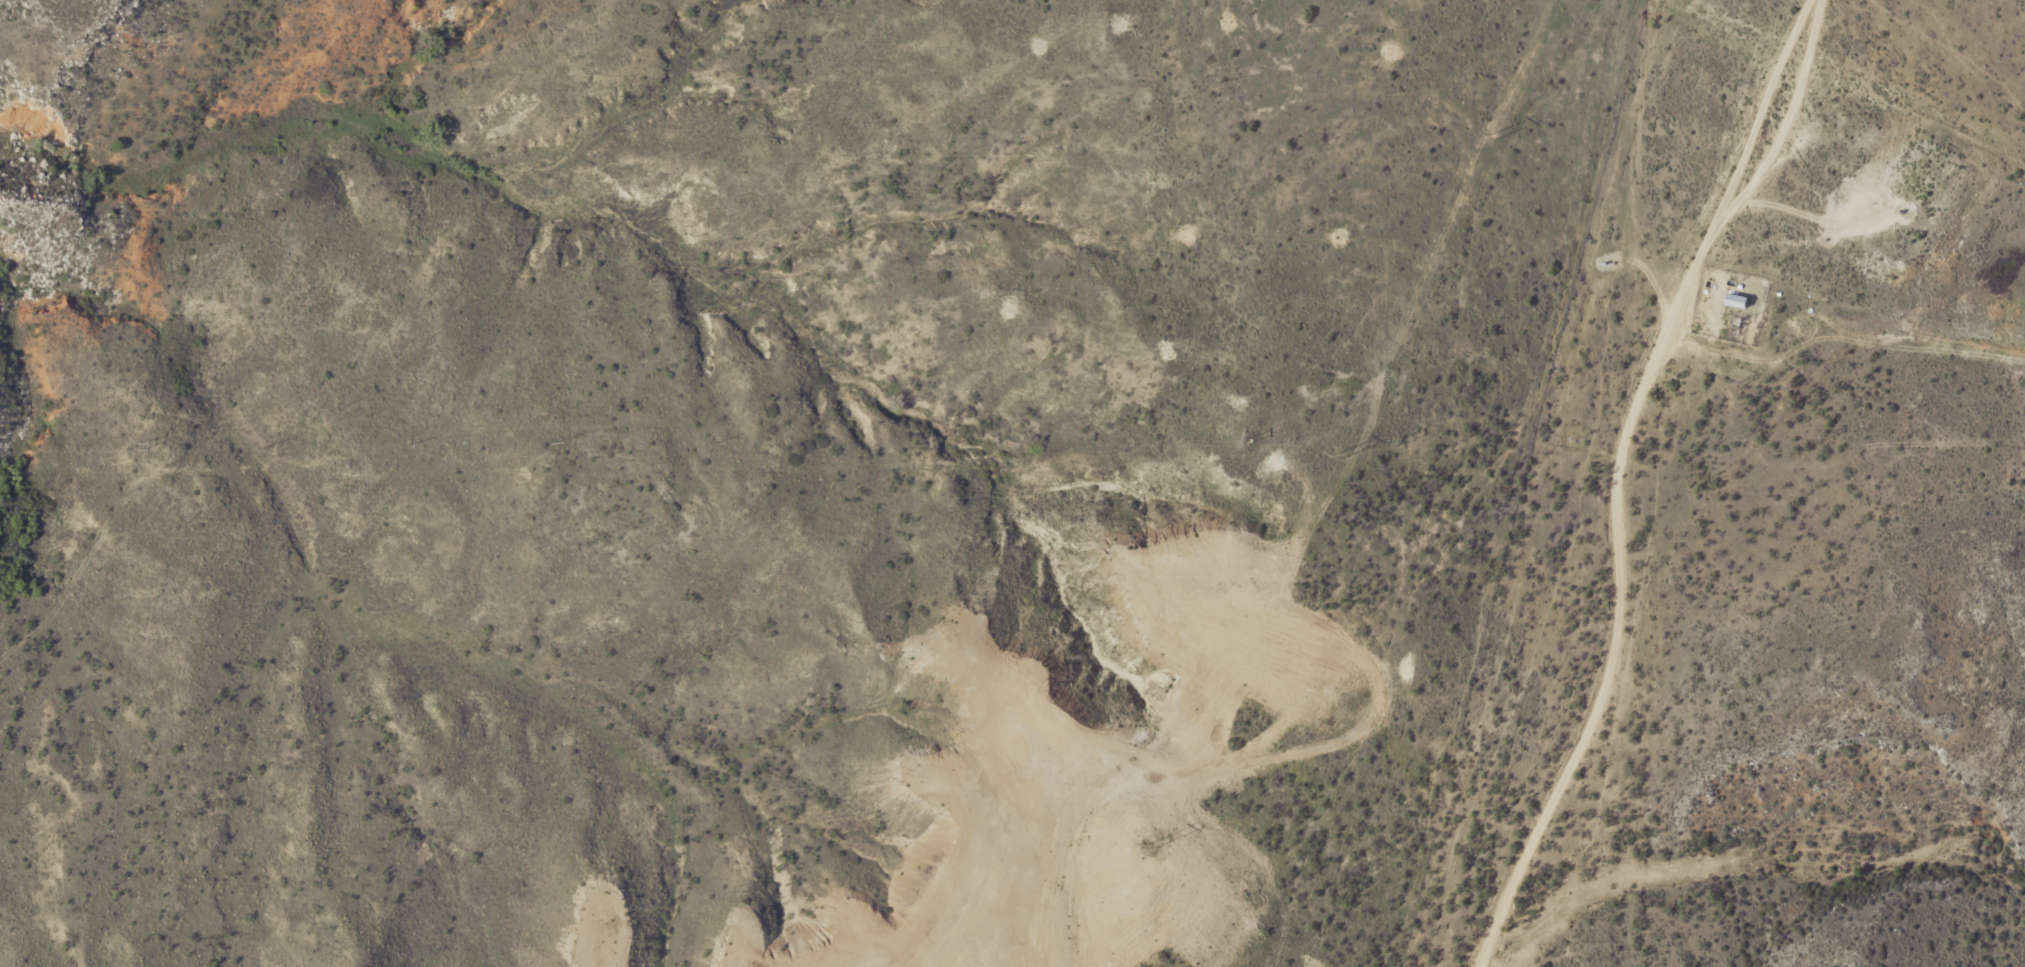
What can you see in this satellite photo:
power tower: (1492, 137)
power tower: (1341, 455)
power tower: (1152, 846)

